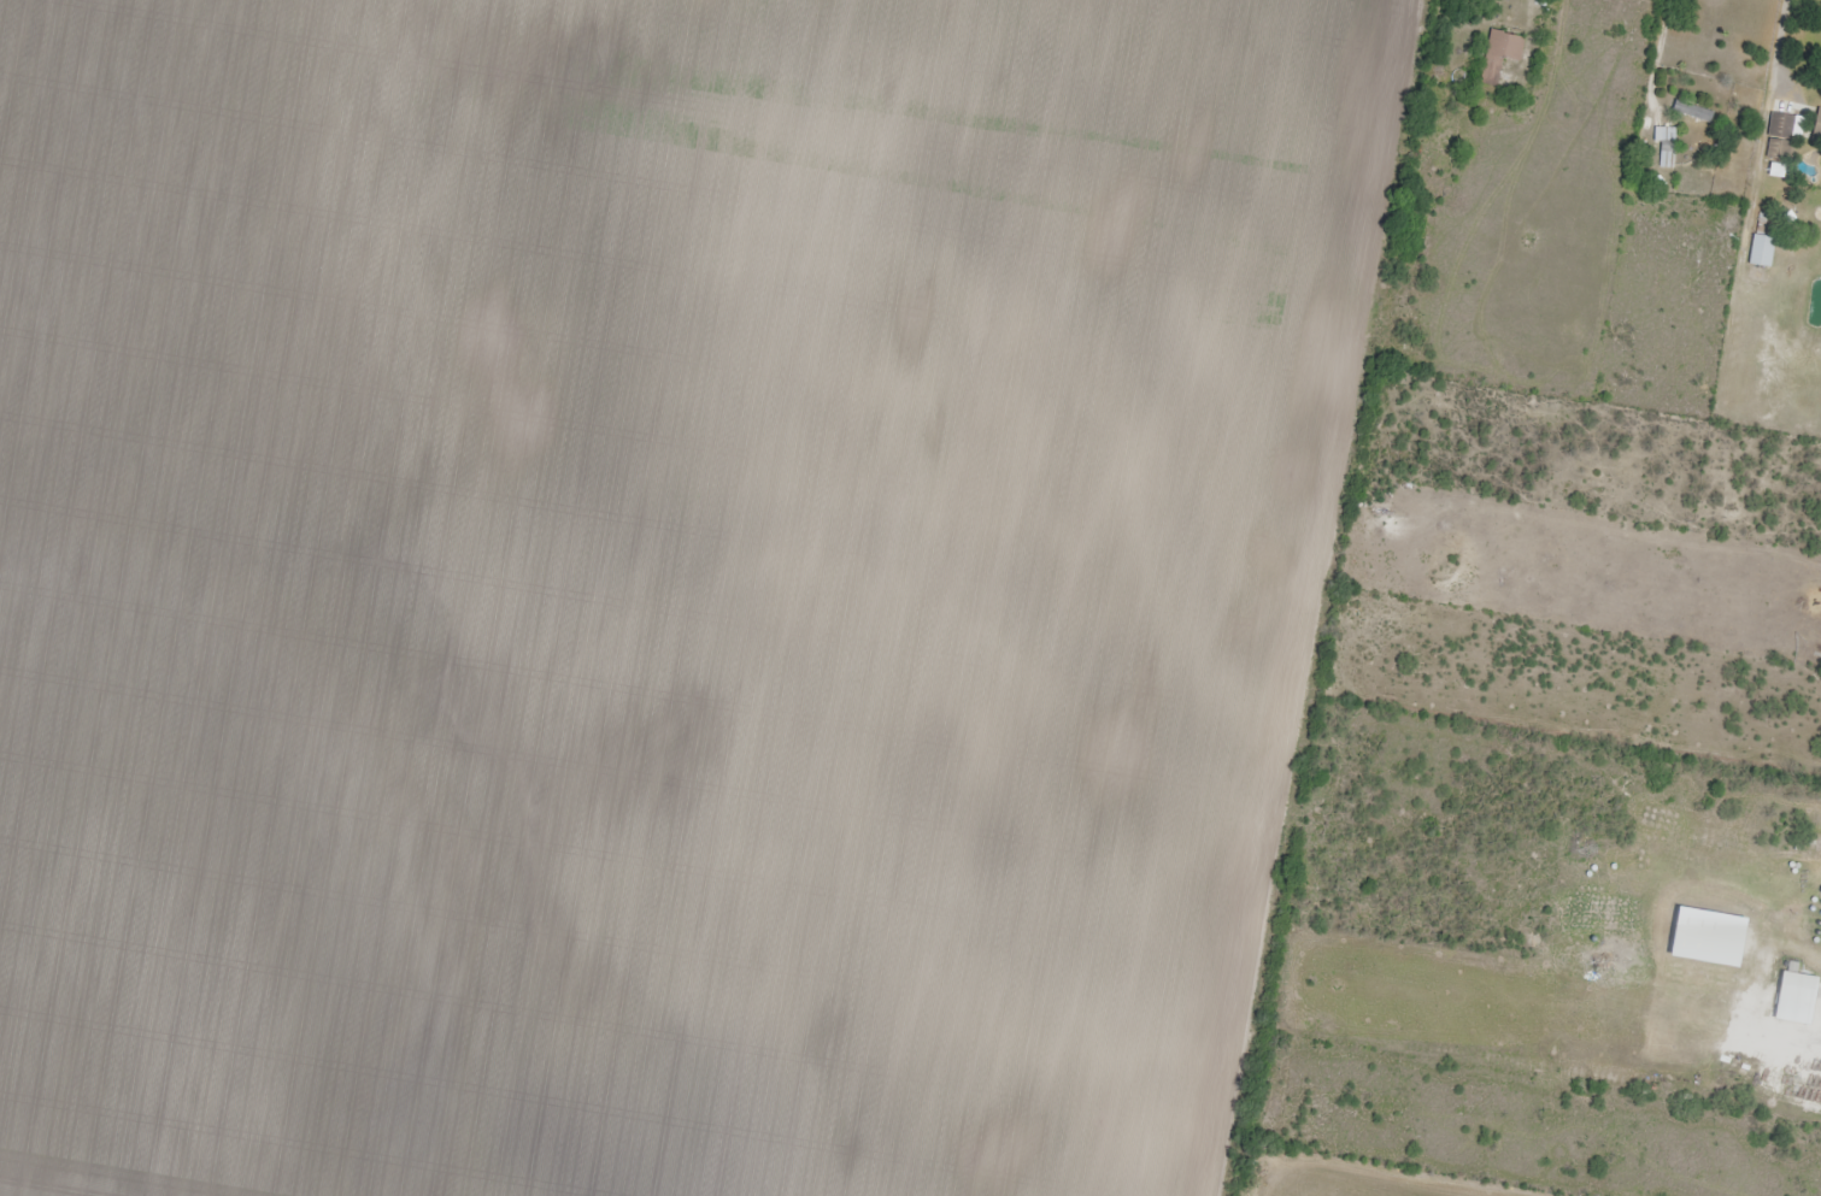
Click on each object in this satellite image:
building: (1500, 55)
building: (1817, 126)
building: (1664, 135)
building: (1667, 158)
building: (1761, 252)
building: (1793, 1000)

